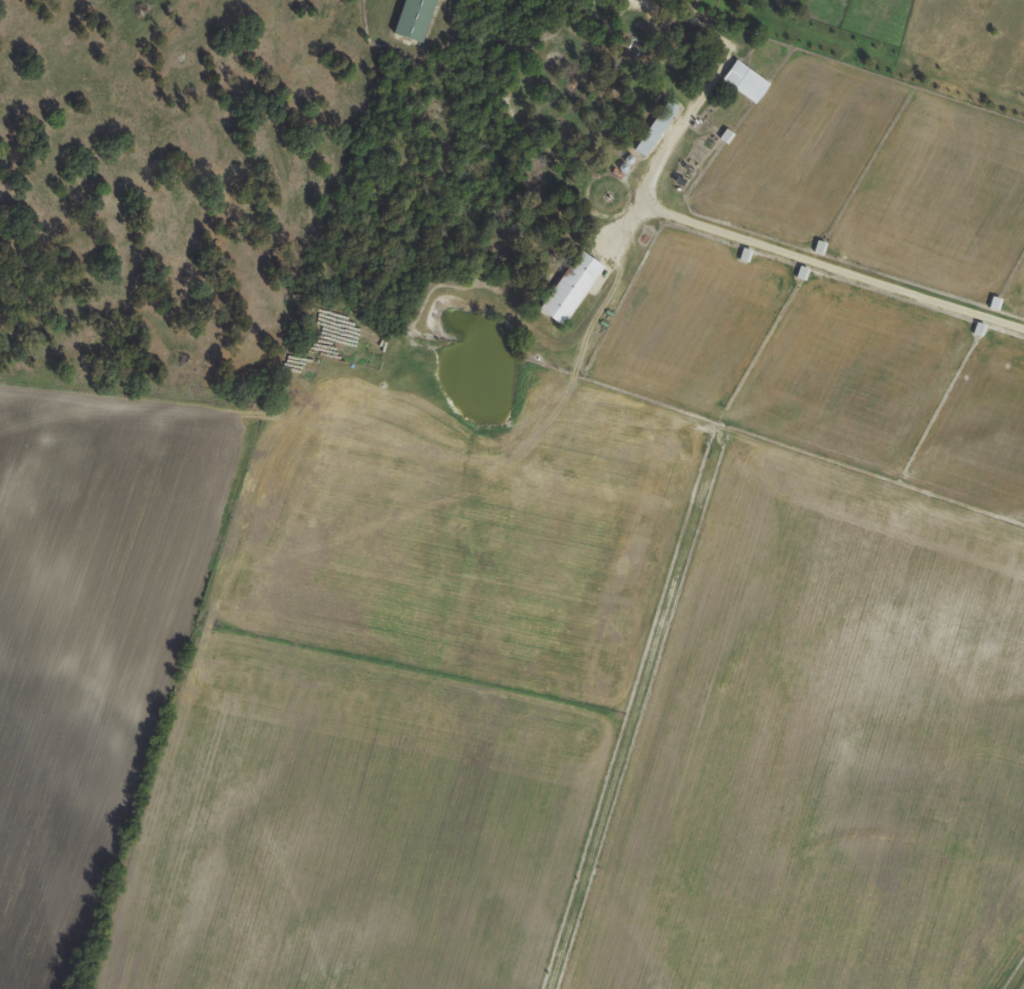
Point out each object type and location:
building: (414, 19)
building: (746, 81)
building: (656, 128)
road: (831, 269)
building: (572, 288)

